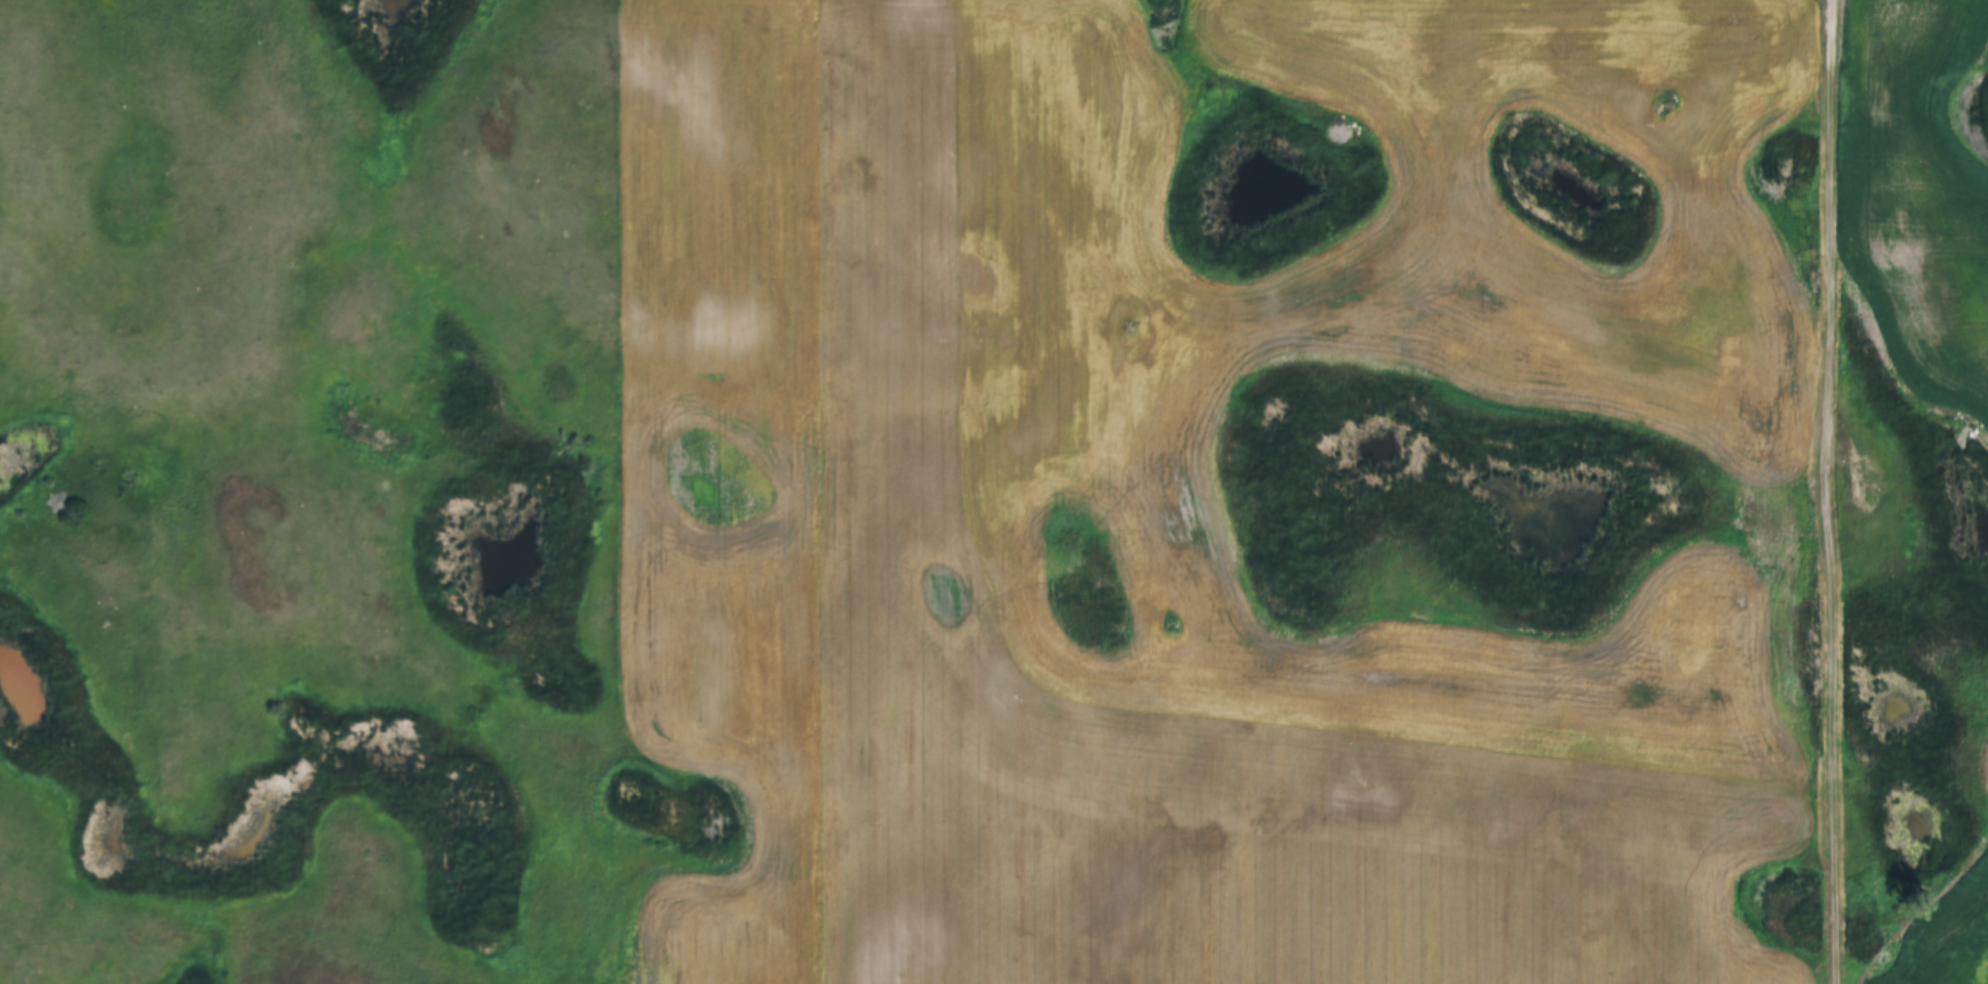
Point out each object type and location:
road: (1831, 492)

